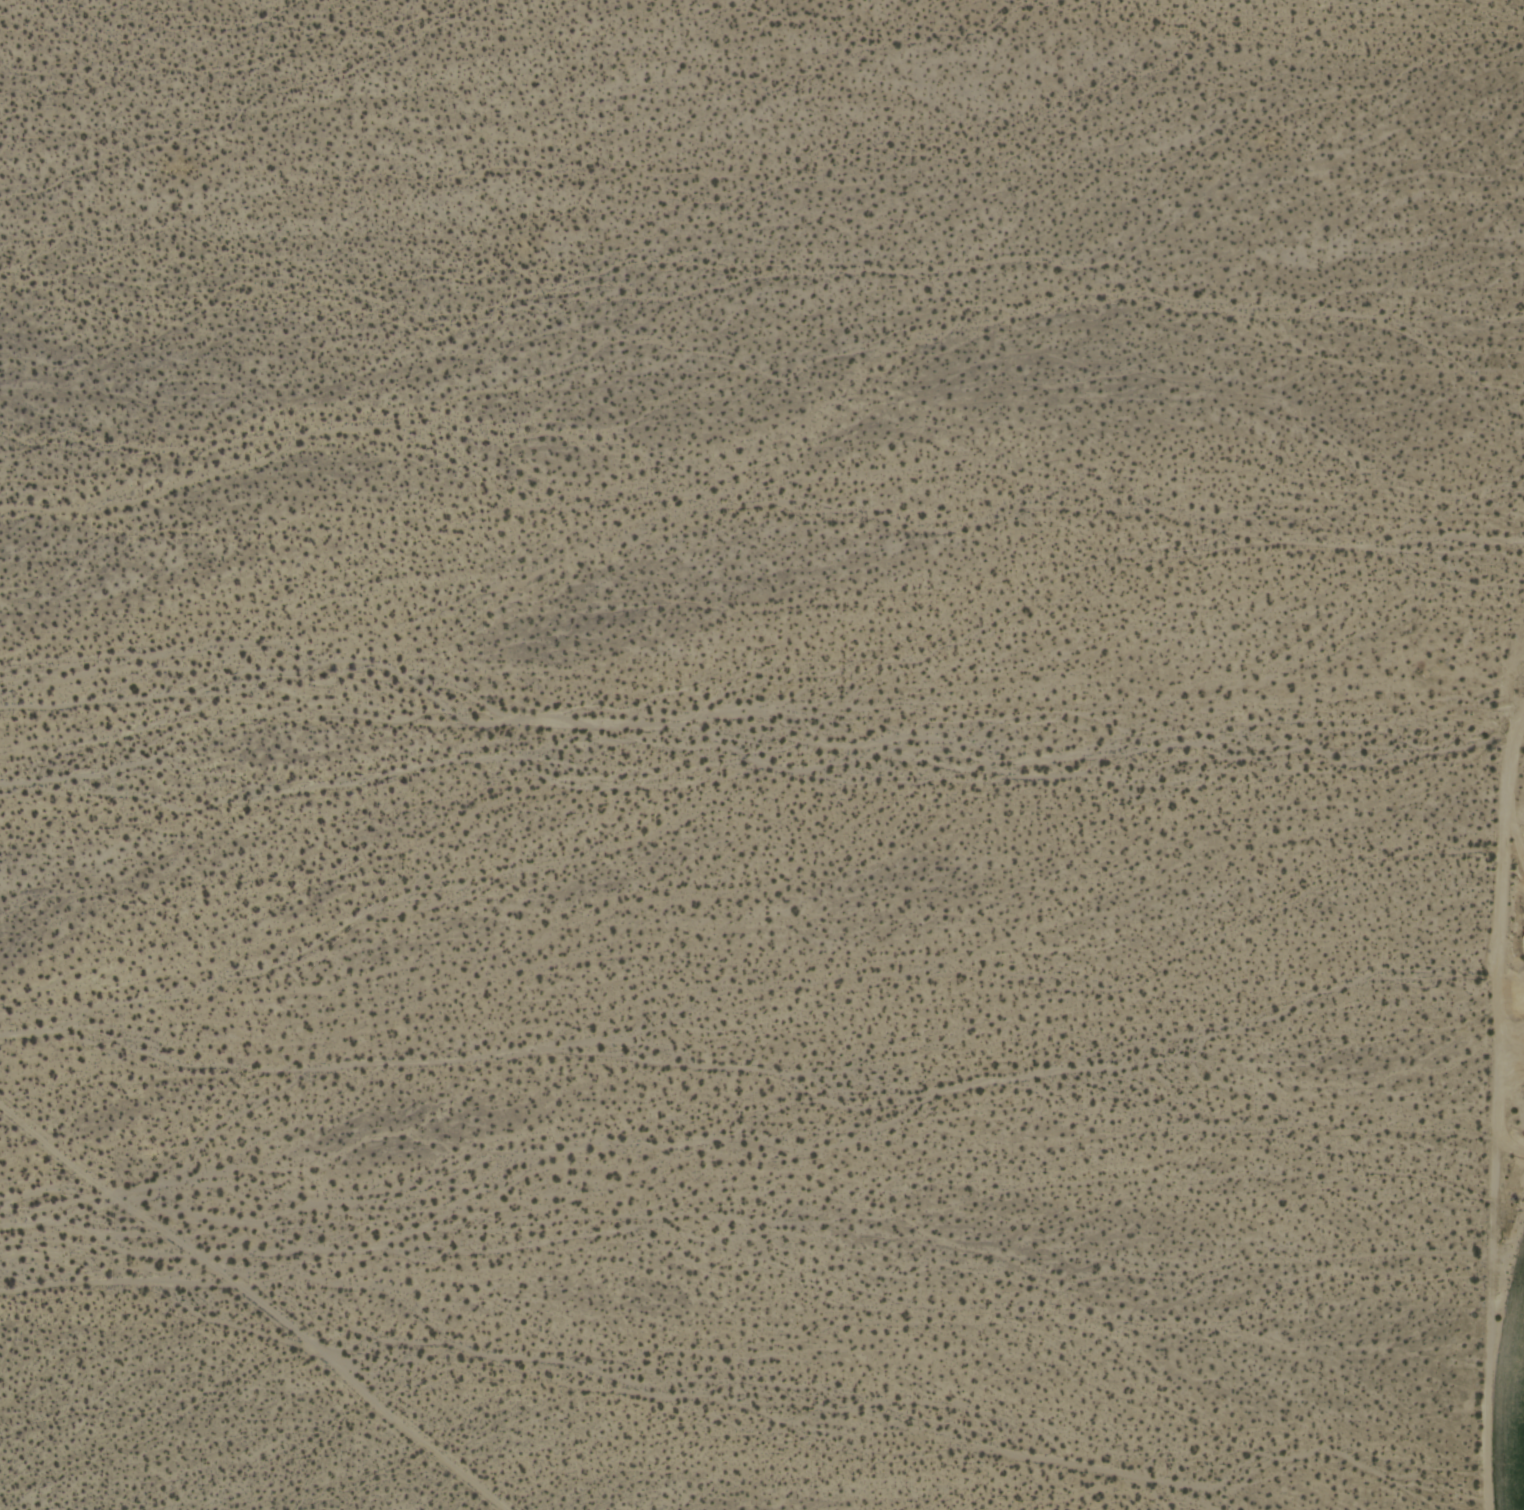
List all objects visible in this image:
road: (1509, 1182)
road: (225, 1328)
crop: (1523, 1500)

